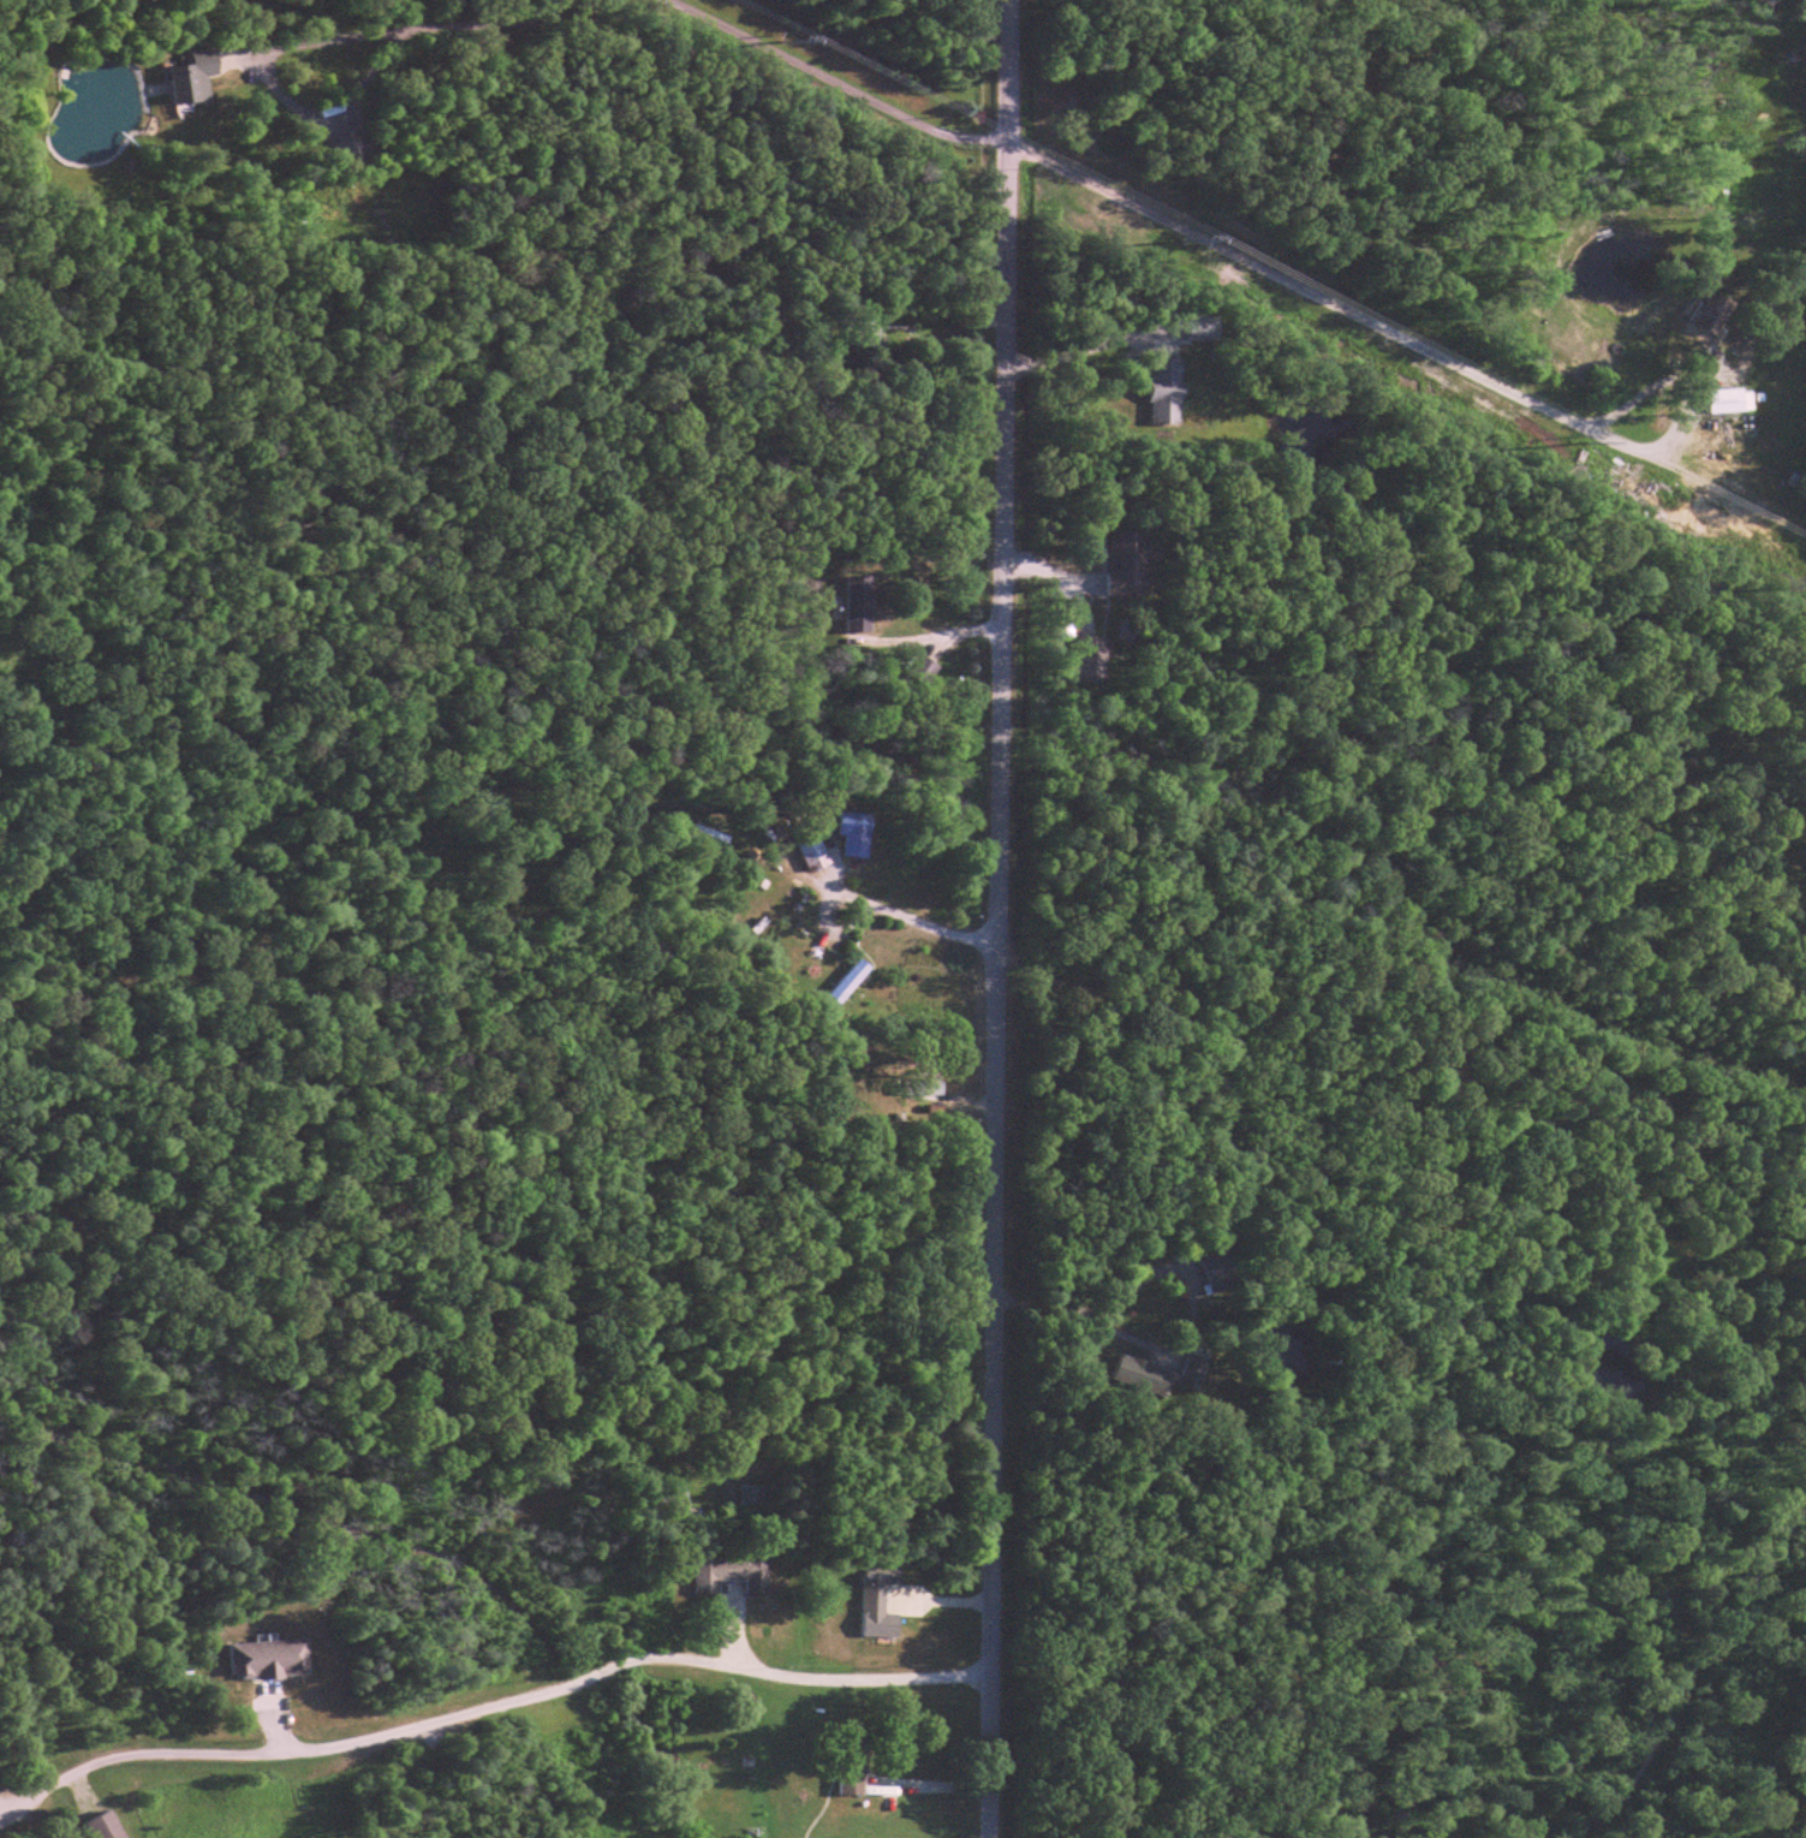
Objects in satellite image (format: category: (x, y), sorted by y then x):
road: (415, 30)
power tower: (781, 30)
building: (196, 81)
road: (835, 83)
building: (354, 154)
power tower: (1186, 231)
road: (1342, 313)
building: (860, 328)
road: (947, 334)
road: (1090, 347)
building: (1158, 392)
power tower: (1572, 435)
building: (1121, 565)
building: (925, 590)
building: (1081, 660)
building: (920, 673)
building: (851, 835)
building: (807, 851)
road: (907, 917)
road: (1002, 918)
building: (842, 988)
building: (918, 1089)
building: (1155, 1372)
building: (747, 1495)
building: (669, 1497)
building: (726, 1576)
building: (872, 1601)
building: (268, 1658)
road: (543, 1690)
building: (844, 1763)
road: (46, 1771)
building: (107, 1827)

